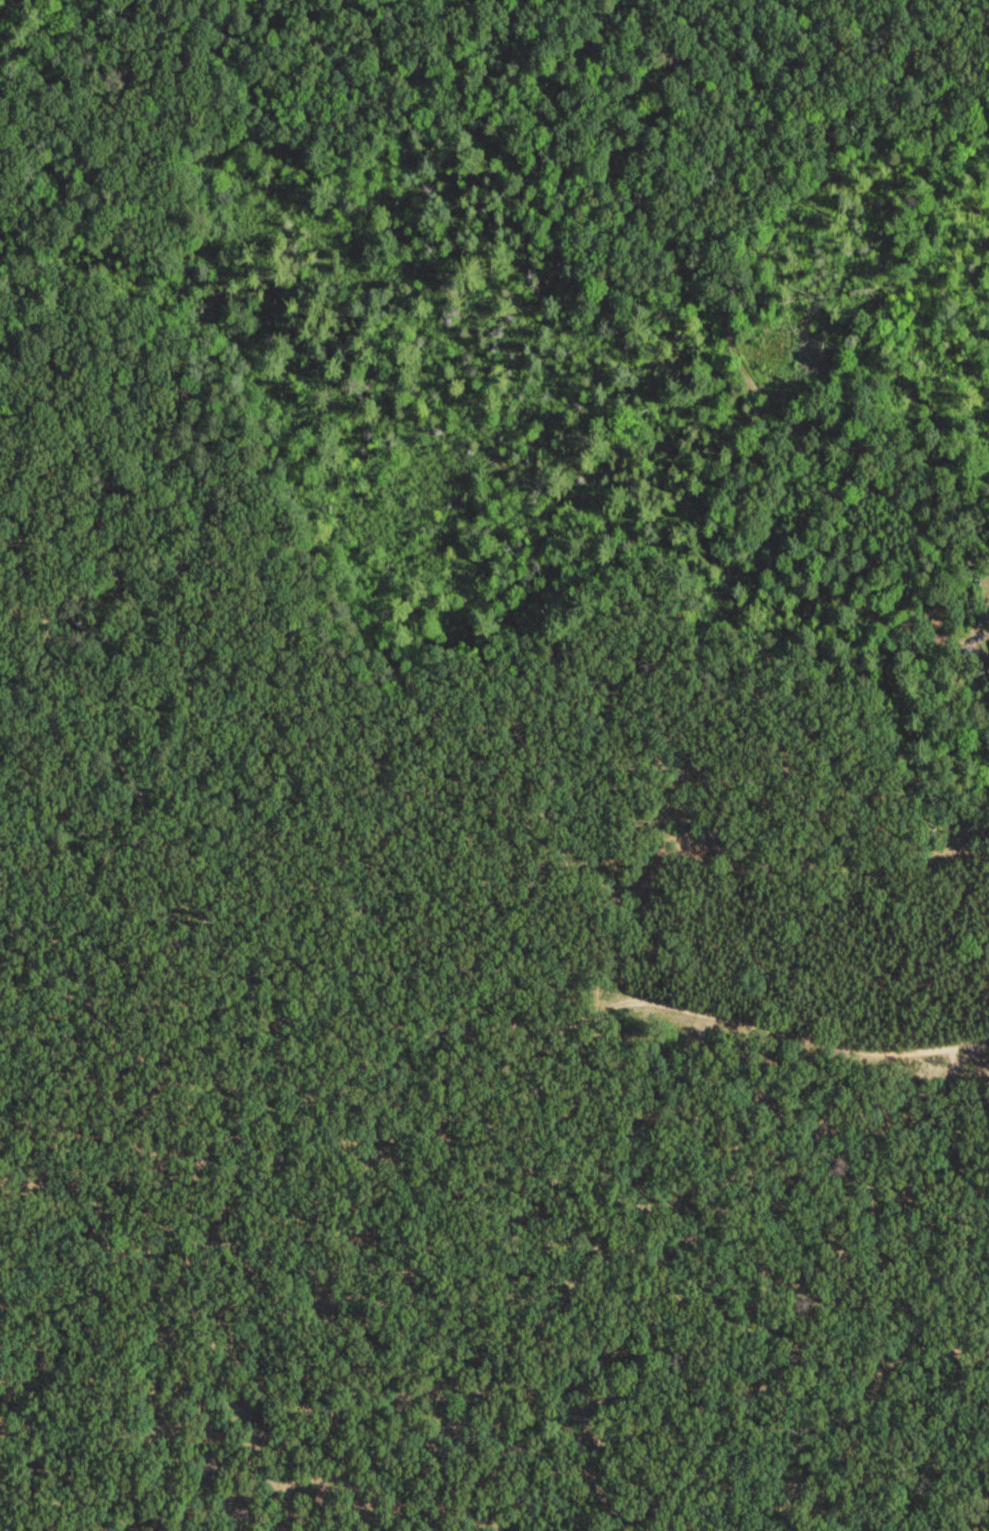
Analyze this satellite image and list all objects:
road: (912, 1135)
road: (748, 1191)

